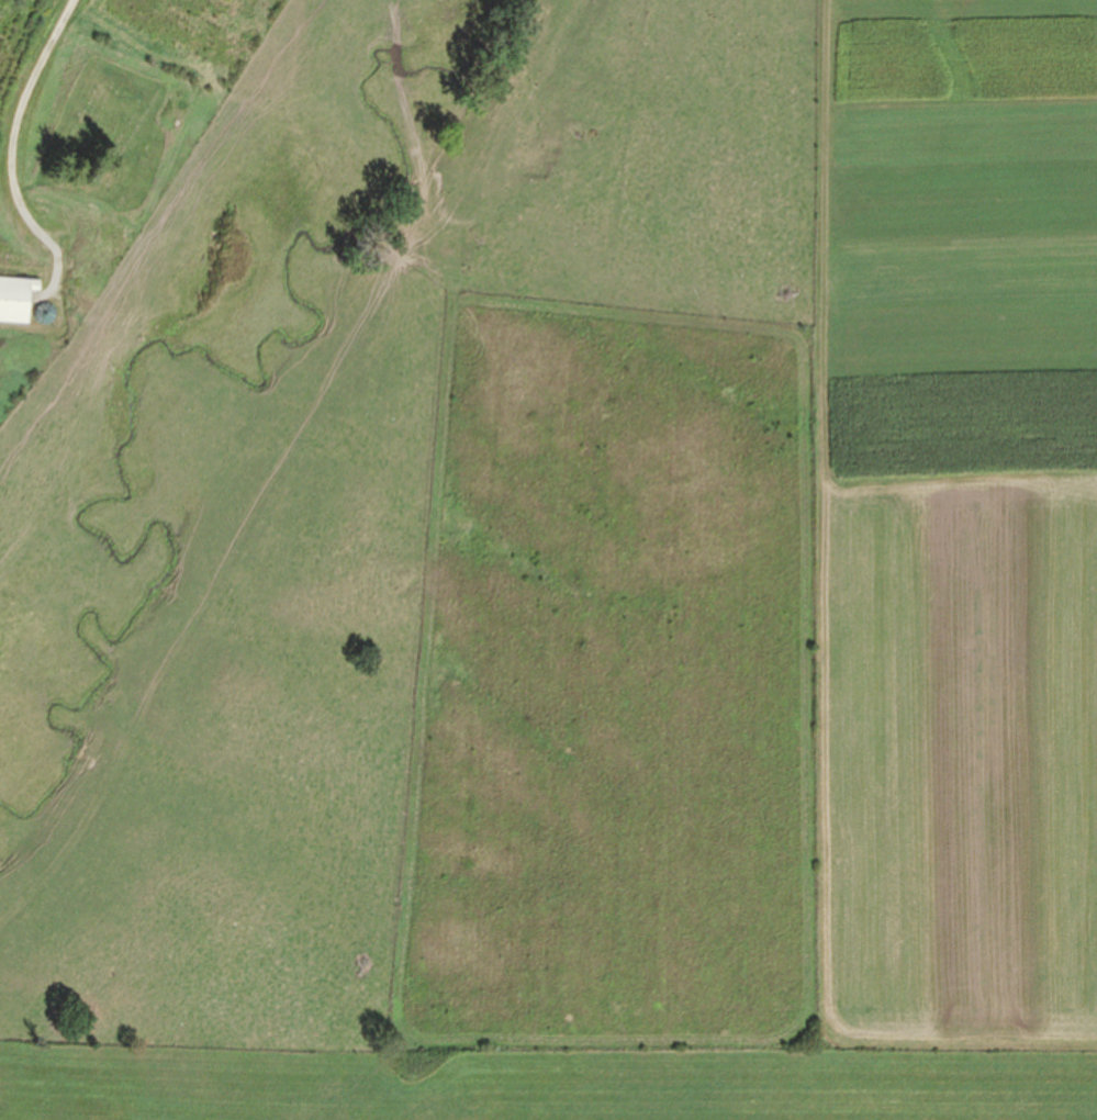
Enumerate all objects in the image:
road: (13, 146)
building: (15, 299)

